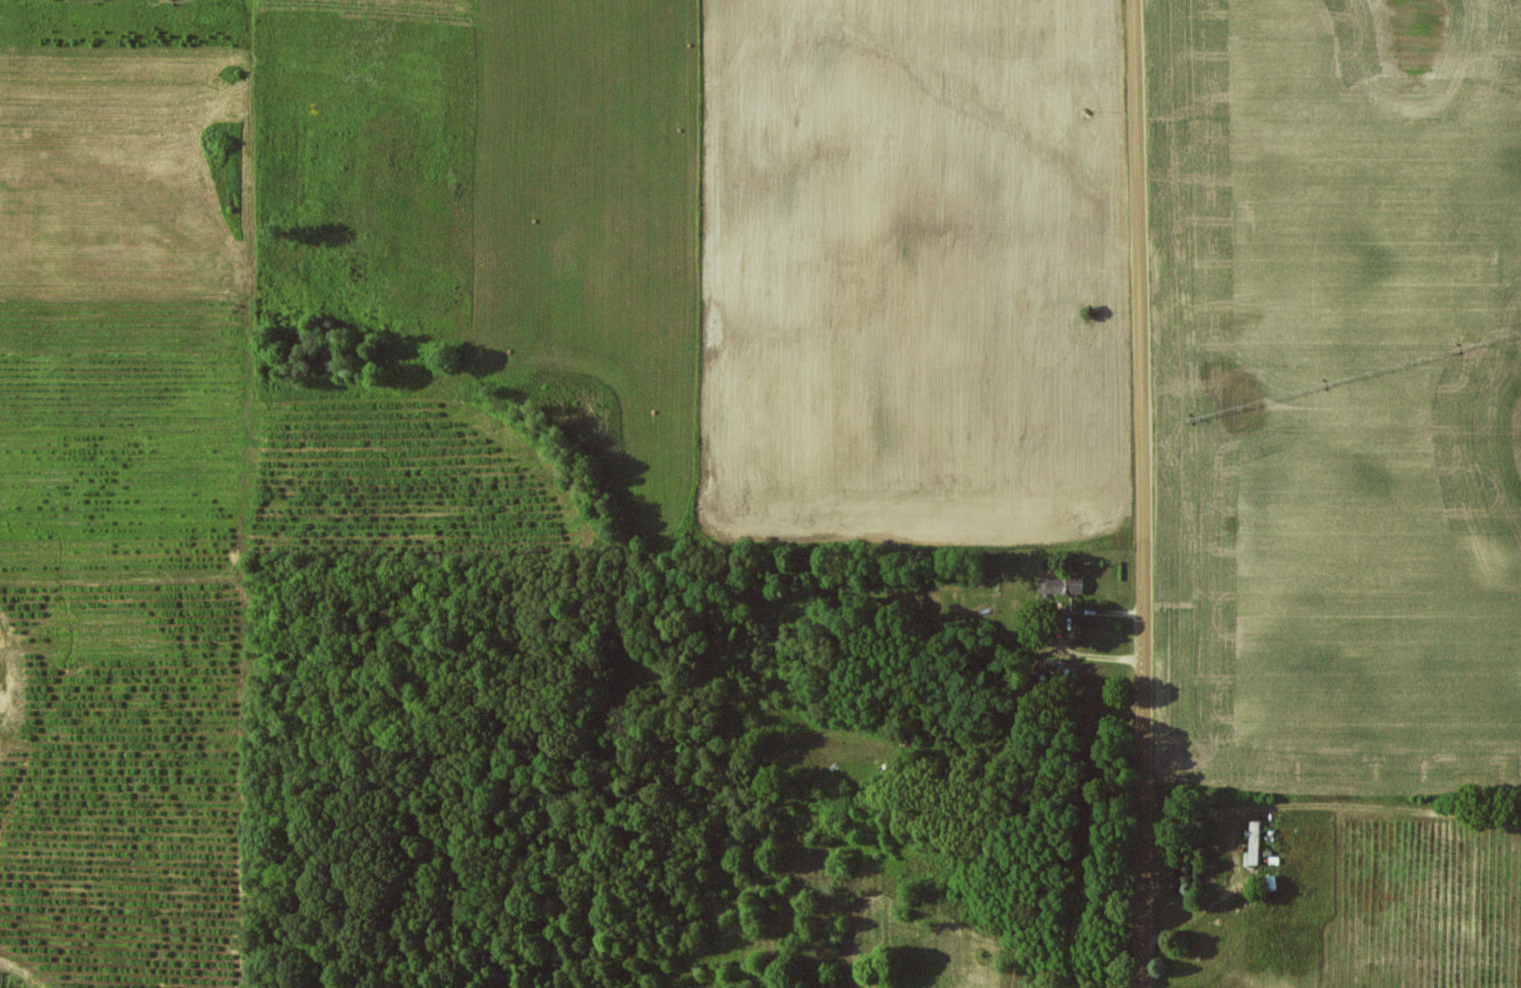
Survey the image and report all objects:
road: (1145, 493)
building: (1062, 586)
building: (1254, 844)
road: (1237, 866)

